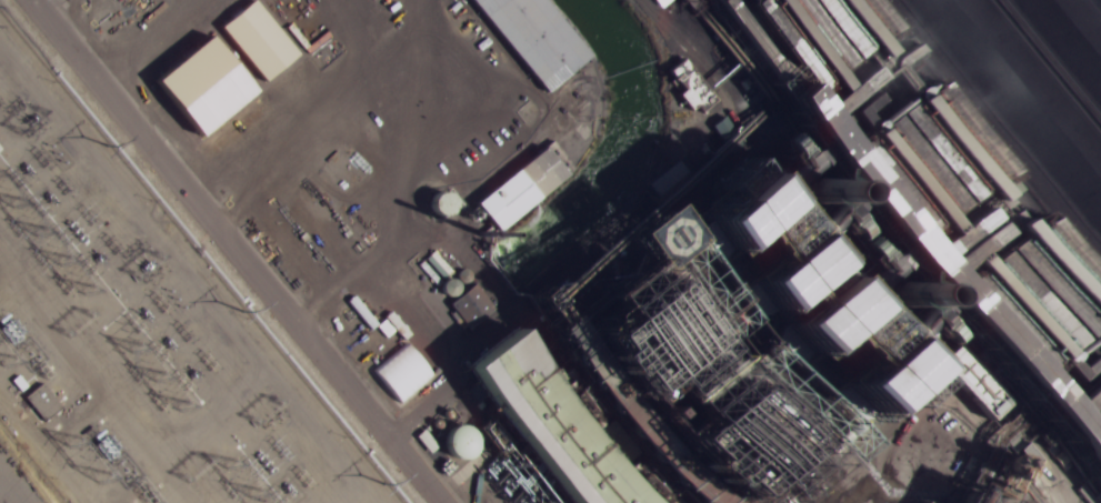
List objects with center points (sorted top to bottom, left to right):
building: (109, 18)
building: (523, 39)
building: (312, 78)
building: (514, 188)
chimney: (833, 191)
building: (944, 191)
building: (434, 203)
storage tank: (434, 203)
building: (324, 218)
road: (238, 251)
power plant: (550, 251)
chimney: (919, 295)
building: (473, 306)
power substation: (141, 324)
building: (720, 352)
building: (973, 385)
building: (42, 401)
building: (456, 442)
storage tank: (456, 442)
building: (961, 497)

